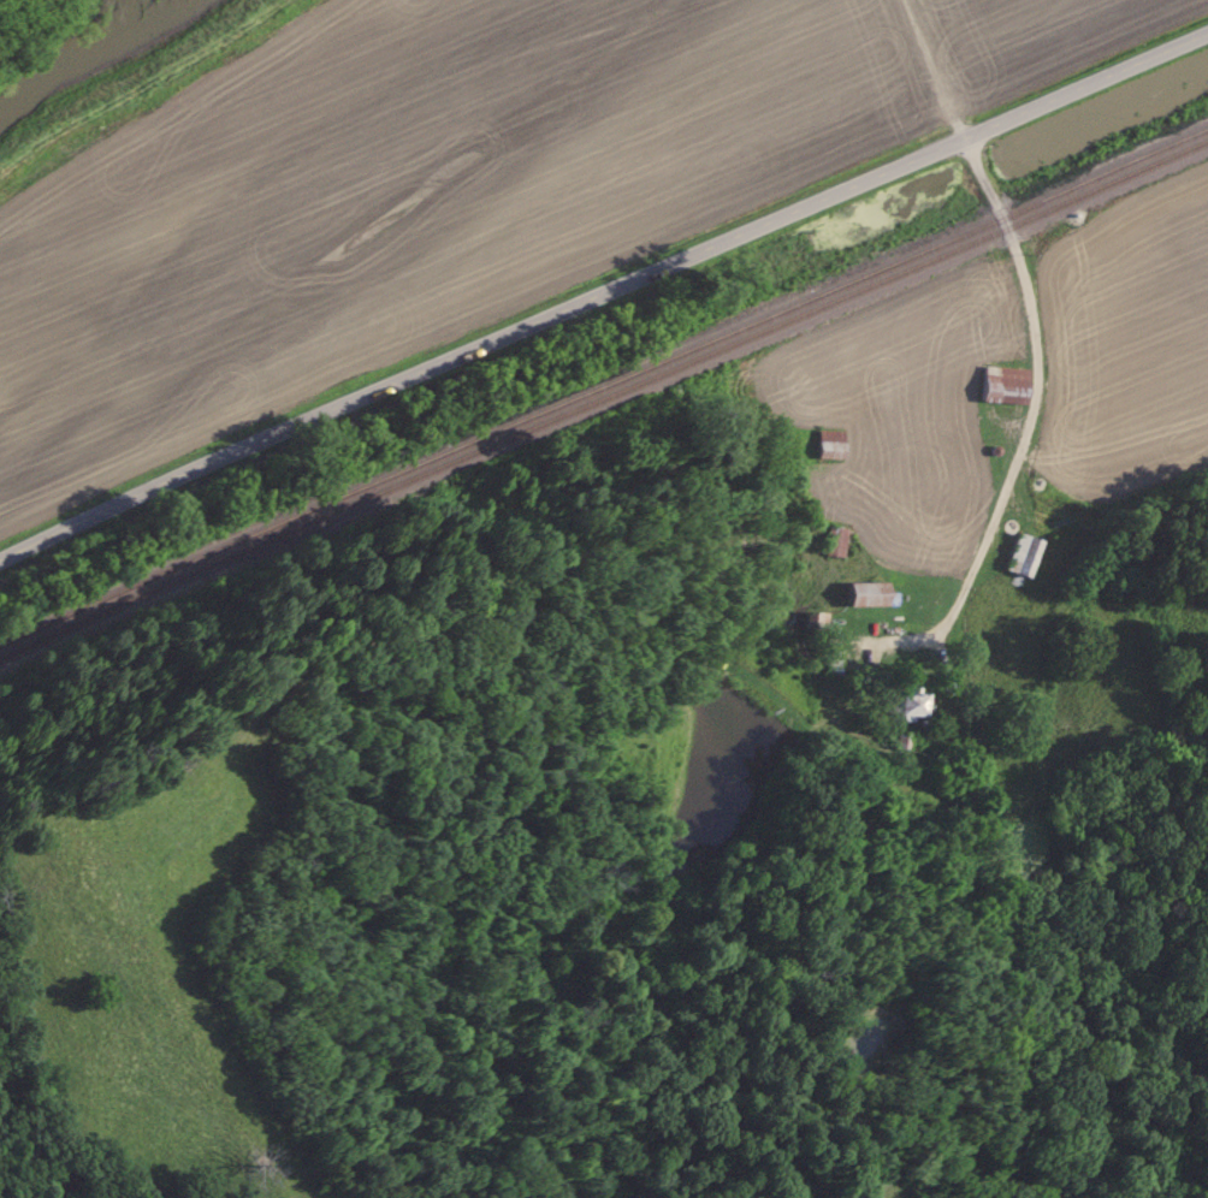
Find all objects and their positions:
road: (598, 284)
road: (1024, 299)
railway: (603, 385)
building: (1007, 386)
railway: (602, 398)
building: (828, 445)
building: (835, 541)
building: (1026, 556)
building: (870, 594)
building: (815, 627)
building: (913, 705)

